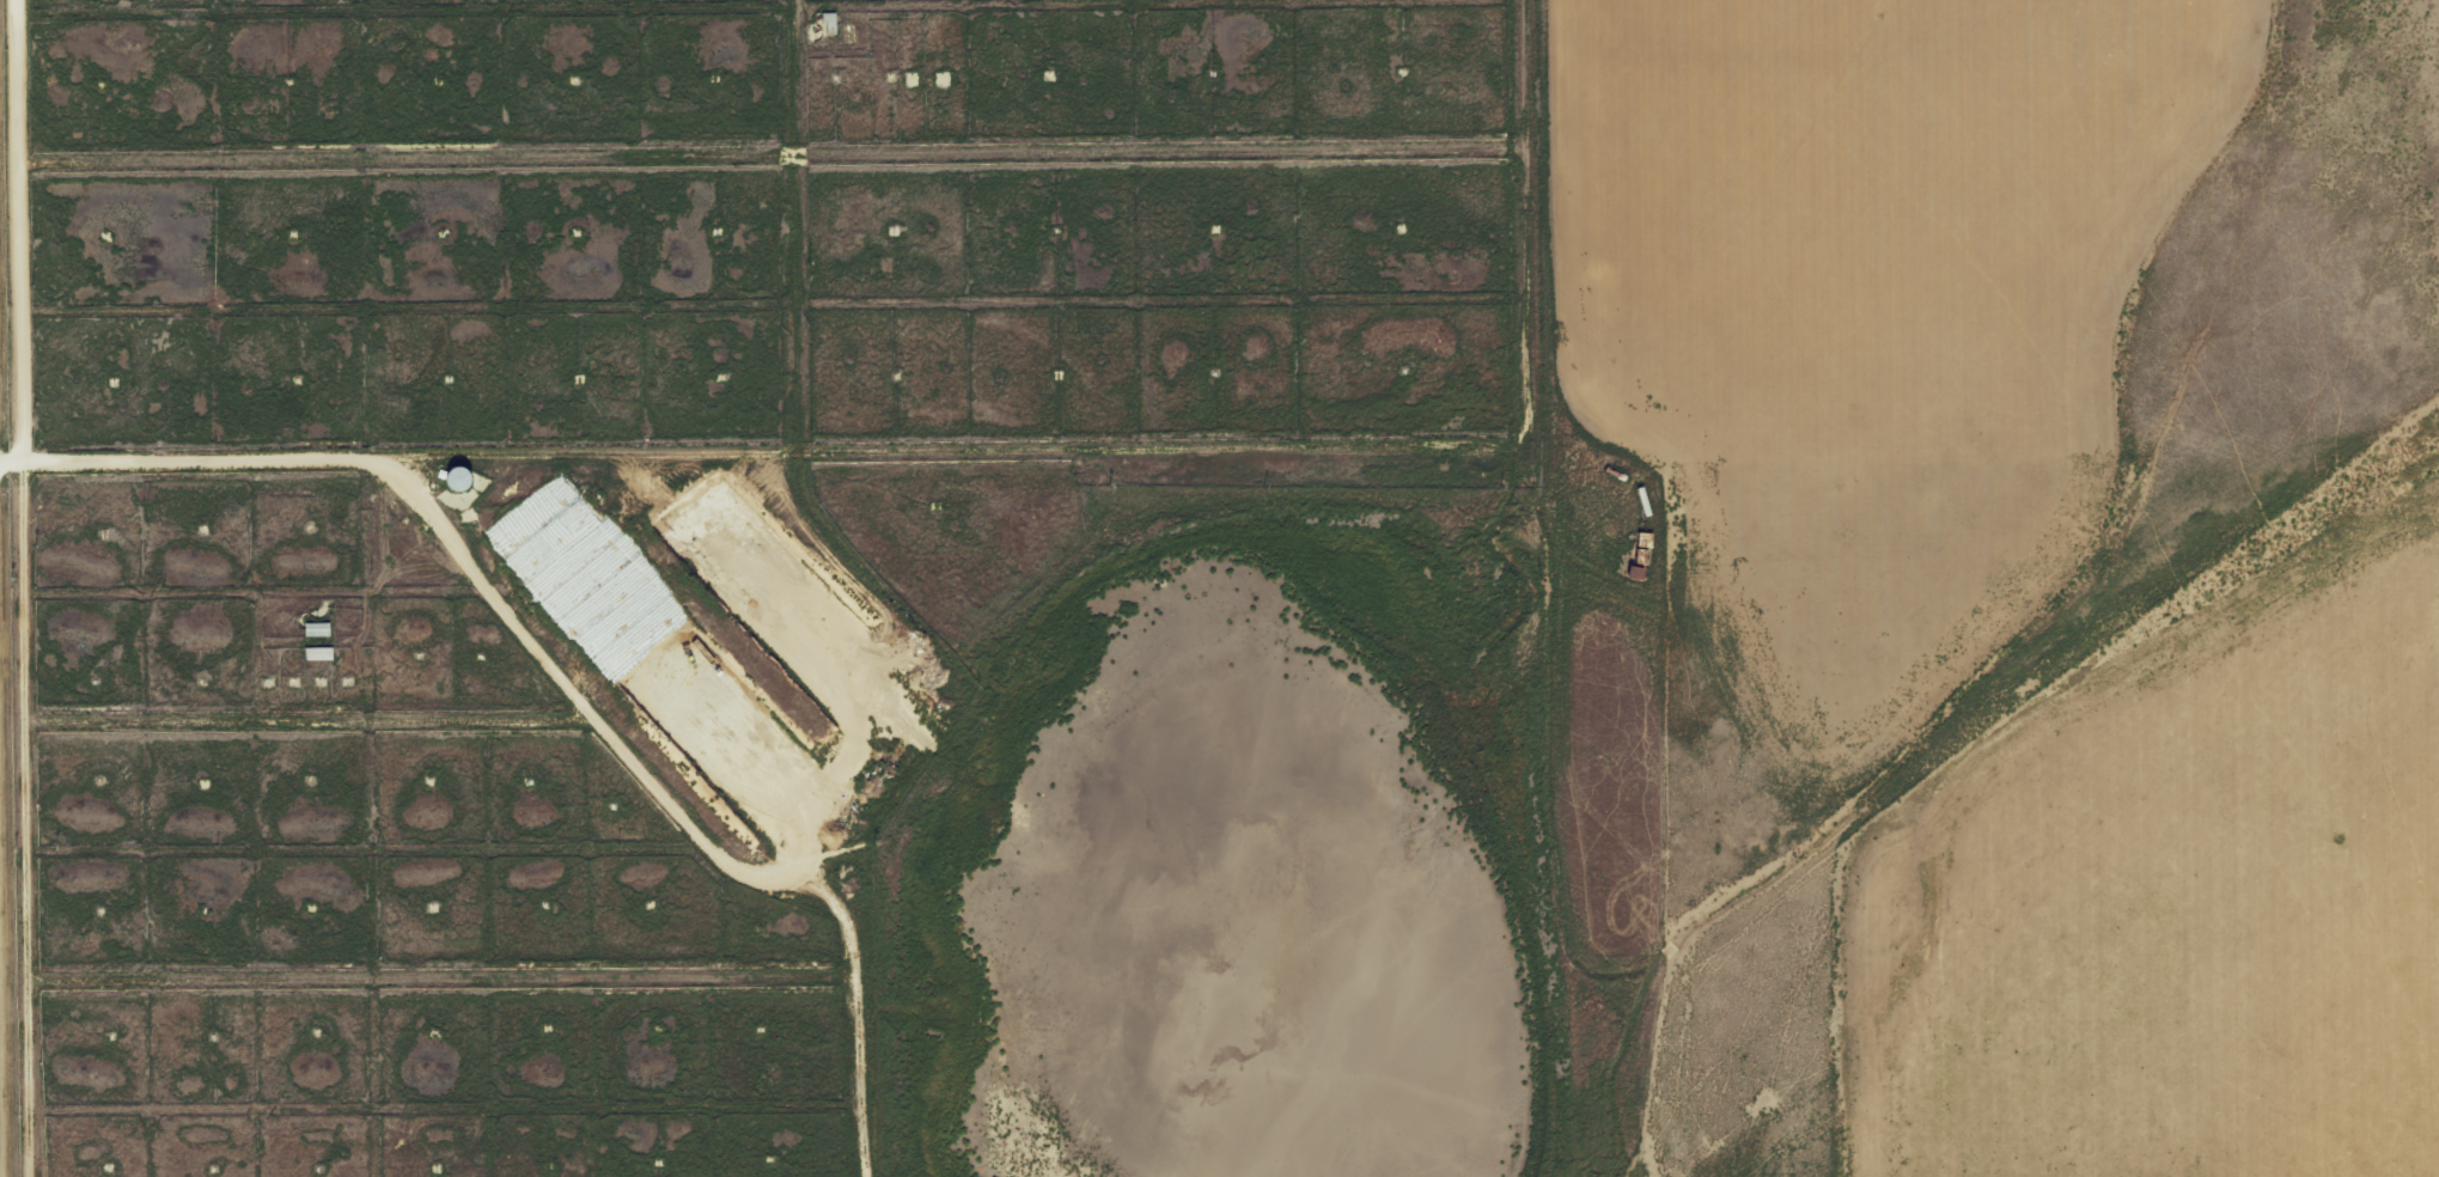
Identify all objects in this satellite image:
road: (1176, 451)
road: (23, 587)
road: (489, 588)
road: (897, 596)
road: (1632, 807)
road: (439, 957)

